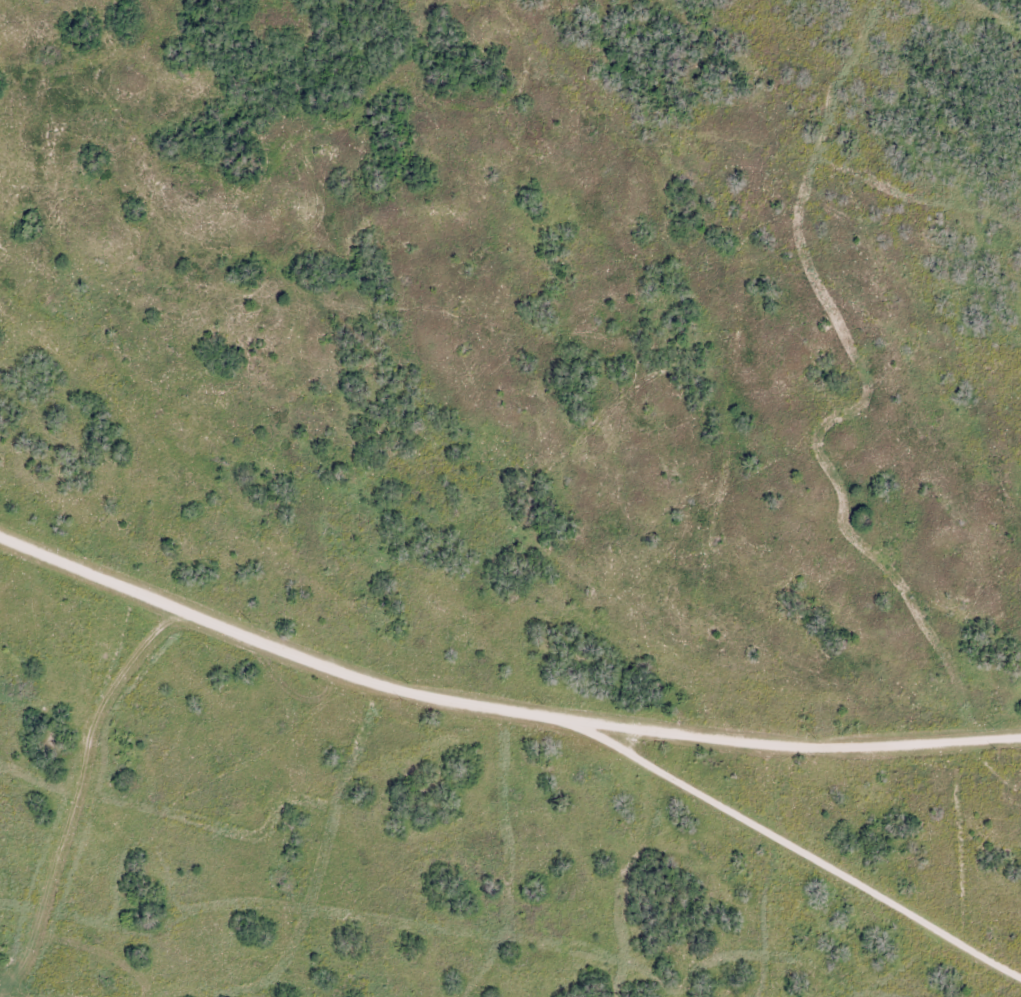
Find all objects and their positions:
road: (496, 711)
road: (790, 847)

